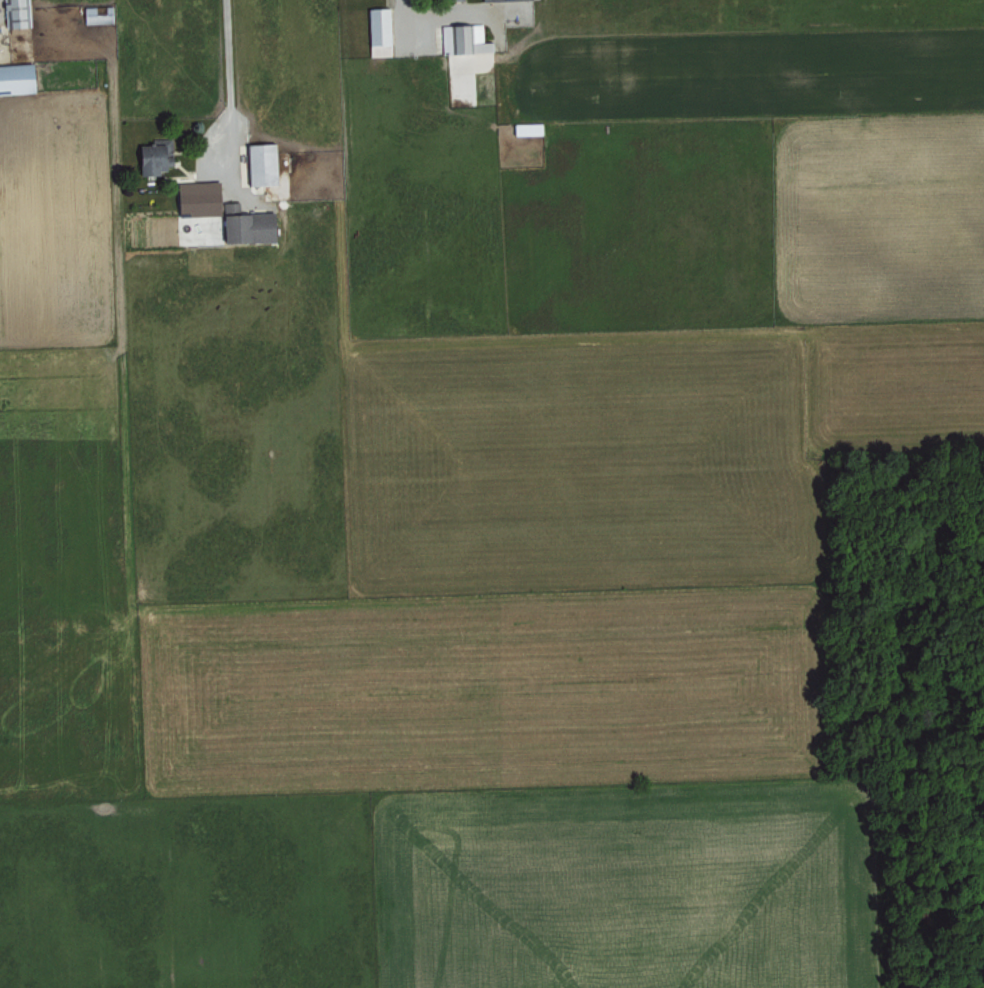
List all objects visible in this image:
building: (484, 0)
building: (16, 13)
building: (97, 14)
building: (379, 31)
building: (463, 38)
road: (226, 62)
building: (16, 78)
building: (527, 128)
building: (152, 159)
building: (259, 165)
building: (225, 213)

